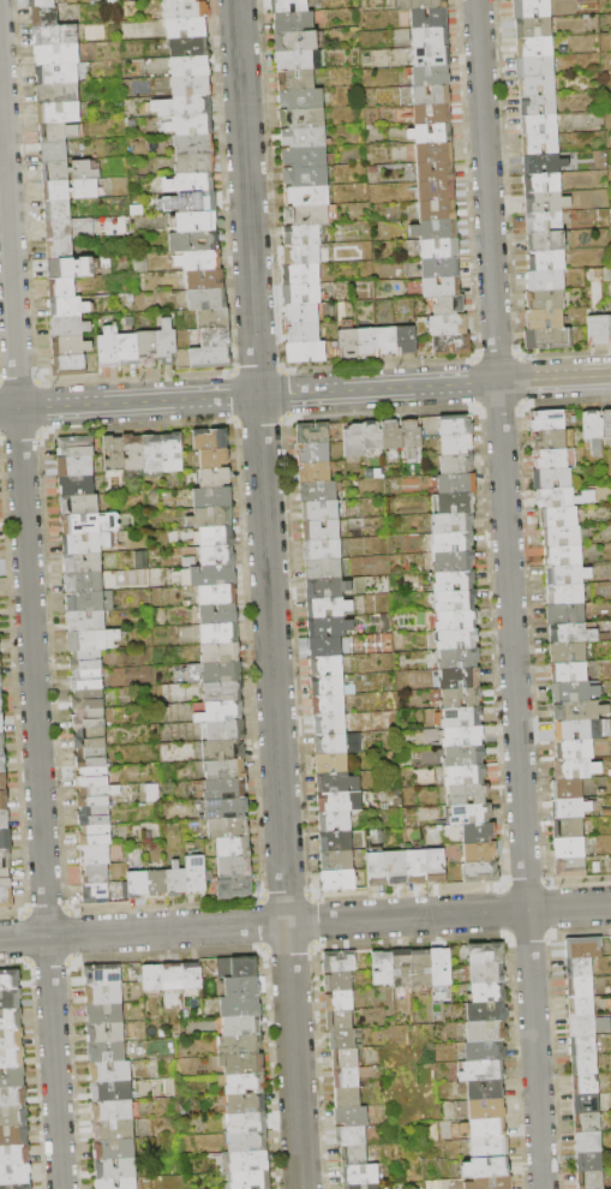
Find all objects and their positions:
building: (168, 0)
building: (517, 0)
building: (114, 1)
building: (42, 4)
building: (420, 5)
building: (289, 6)
building: (184, 8)
building: (532, 8)
building: (44, 16)
building: (429, 19)
building: (294, 22)
building: (186, 28)
building: (533, 28)
building: (55, 35)
building: (430, 38)
building: (296, 42)
building: (188, 47)
building: (534, 48)
building: (58, 55)
building: (431, 56)
building: (299, 60)
building: (190, 67)
building: (535, 67)
building: (58, 74)
building: (431, 76)
building: (295, 80)
building: (537, 85)
building: (190, 86)
building: (58, 94)
building: (432, 96)
building: (301, 100)
building: (538, 104)
building: (181, 106)
building: (59, 113)
building: (432, 114)
building: (302, 118)
building: (190, 125)
building: (539, 125)
building: (58, 132)
building: (418, 132)
building: (304, 137)
building: (193, 144)
building: (540, 144)
building: (54, 153)
building: (435, 153)
building: (305, 156)
building: (194, 163)
building: (558, 166)
building: (70, 171)
building: (436, 172)
building: (306, 177)
building: (543, 183)
building: (188, 184)
building: (71, 190)
building: (436, 191)
building: (307, 196)
building: (197, 202)
building: (561, 205)
building: (58, 210)
building: (437, 210)
building: (307, 215)
building: (194, 221)
building: (544, 222)
building: (70, 229)
building: (435, 229)
building: (301, 234)
building: (192, 241)
building: (546, 241)
building: (439, 249)
building: (60, 250)
building: (301, 255)
building: (199, 261)
building: (546, 261)
building: (71, 268)
building: (441, 268)
building: (301, 274)
building: (205, 280)
building: (546, 280)
building: (442, 287)
building: (61, 288)
building: (301, 294)
building: (206, 299)
building: (545, 299)
building: (449, 306)
building: (68, 307)
building: (302, 313)
building: (214, 318)
building: (544, 318)
building: (609, 324)
building: (448, 325)
building: (70, 327)
building: (598, 329)
building: (304, 333)
building: (216, 337)
building: (547, 339)
building: (407, 340)
building: (367, 341)
building: (387, 341)
building: (167, 342)
building: (348, 343)
building: (451, 343)
building: (71, 346)
building: (109, 348)
building: (146, 348)
building: (127, 349)
building: (305, 352)
building: (211, 358)
building: (68, 366)
road: (305, 393)
building: (550, 420)
building: (455, 425)
building: (606, 425)
building: (593, 431)
building: (312, 434)
building: (372, 436)
building: (411, 437)
building: (391, 438)
building: (210, 440)
building: (551, 440)
building: (354, 441)
building: (456, 444)
building: (76, 446)
building: (133, 453)
building: (172, 453)
building: (315, 453)
building: (114, 454)
building: (152, 454)
building: (215, 458)
building: (551, 459)
building: (456, 464)
building: (76, 466)
building: (315, 472)
building: (215, 477)
building: (552, 478)
building: (457, 484)
building: (77, 485)
building: (318, 491)
building: (212, 497)
building: (564, 497)
building: (456, 503)
building: (79, 504)
building: (321, 512)
building: (558, 516)
building: (210, 518)
building: (453, 522)
building: (90, 524)
building: (321, 531)
building: (562, 536)
building: (216, 537)
building: (453, 543)
building: (82, 544)
building: (322, 550)
building: (217, 555)
building: (563, 556)
building: (454, 562)
building: (82, 563)
building: (324, 570)
building: (568, 574)
building: (212, 575)
building: (454, 581)
building: (83, 582)
building: (327, 588)
road: (269, 593)
building: (565, 593)
road: (509, 594)
building: (217, 596)
building: (89, 601)
building: (455, 601)
building: (328, 608)
building: (565, 614)
building: (218, 615)
building: (85, 621)
building: (456, 621)
building: (329, 627)
building: (220, 633)
building: (573, 633)
road: (30, 640)
building: (92, 640)
building: (457, 640)
building: (325, 646)
building: (220, 652)
building: (568, 652)
building: (459, 658)
building: (86, 661)
building: (327, 665)
building: (0, 669)
building: (222, 673)
building: (569, 673)
building: (460, 677)
building: (88, 681)
building: (0, 685)
building: (328, 685)
building: (223, 692)
building: (574, 692)
building: (461, 697)
building: (88, 700)
building: (329, 705)
building: (1, 706)
building: (580, 711)
building: (610, 711)
building: (220, 712)
building: (461, 717)
building: (90, 719)
building: (1, 724)
building: (330, 724)
building: (577, 729)
building: (226, 731)
building: (462, 736)
building: (90, 739)
building: (1, 742)
building: (339, 743)
building: (575, 749)
building: (223, 751)
building: (463, 755)
building: (91, 758)
building: (2, 761)
building: (331, 764)
building: (576, 769)
building: (224, 770)
building: (465, 776)
building: (92, 777)
building: (2, 781)
building: (339, 783)
building: (224, 789)
building: (568, 789)
building: (468, 794)
building: (96, 796)
building: (4, 800)
building: (340, 802)
building: (226, 808)
building: (570, 808)
building: (471, 814)
building: (95, 817)
building: (4, 820)
building: (335, 821)
building: (224, 827)
building: (568, 827)
building: (479, 832)
building: (96, 836)
building: (5, 840)
building: (336, 841)
building: (233, 847)
building: (569, 848)
building: (479, 852)
building: (96, 855)
building: (5, 859)
building: (337, 860)
building: (234, 866)
building: (436, 866)
building: (415, 867)
building: (570, 867)
building: (377, 868)
building: (396, 868)
building: (481, 872)
building: (96, 874)
building: (196, 874)
building: (5, 878)
building: (175, 880)
building: (339, 880)
building: (137, 884)
building: (156, 884)
building: (234, 886)
building: (96, 894)
building: (6, 897)
road: (305, 922)
building: (610, 942)
building: (583, 948)
building: (340, 961)
building: (487, 963)
building: (236, 967)
building: (441, 967)
building: (383, 968)
building: (402, 968)
building: (421, 968)
building: (580, 968)
building: (103, 974)
building: (191, 976)
building: (152, 978)
building: (172, 978)
building: (10, 980)
building: (339, 981)
building: (241, 987)
building: (580, 987)
building: (103, 993)
building: (489, 993)
building: (10, 999)
building: (340, 1000)
building: (240, 1006)
building: (581, 1006)
building: (486, 1012)
building: (104, 1014)
building: (11, 1018)
building: (340, 1020)
building: (241, 1024)
building: (587, 1026)
building: (486, 1032)
building: (106, 1033)
building: (11, 1036)
building: (343, 1039)
building: (240, 1044)
building: (583, 1046)
building: (485, 1051)
building: (107, 1052)
building: (12, 1057)
building: (346, 1057)
building: (241, 1063)
building: (585, 1065)
building: (110, 1071)
building: (483, 1071)
building: (12, 1077)
building: (347, 1077)
building: (245, 1083)
building: (586, 1085)
building: (112, 1091)
building: (486, 1091)
building: (12, 1097)
building: (348, 1098)
building: (246, 1104)
building: (587, 1104)
building: (487, 1109)
building: (113, 1110)
building: (13, 1116)
building: (352, 1117)
building: (247, 1123)
building: (587, 1123)
building: (114, 1129)
building: (484, 1129)
building: (13, 1135)
building: (352, 1136)
building: (247, 1142)
building: (589, 1142)
building: (114, 1148)
building: (490, 1148)
building: (14, 1154)
building: (354, 1155)
building: (250, 1161)
building: (589, 1161)
building: (116, 1169)
building: (485, 1169)
building: (14, 1173)
building: (361, 1175)
building: (251, 1179)
building: (591, 1179)
building: (106, 1183)
building: (491, 1183)
building: (17, 1187)
building: (363, 1187)

